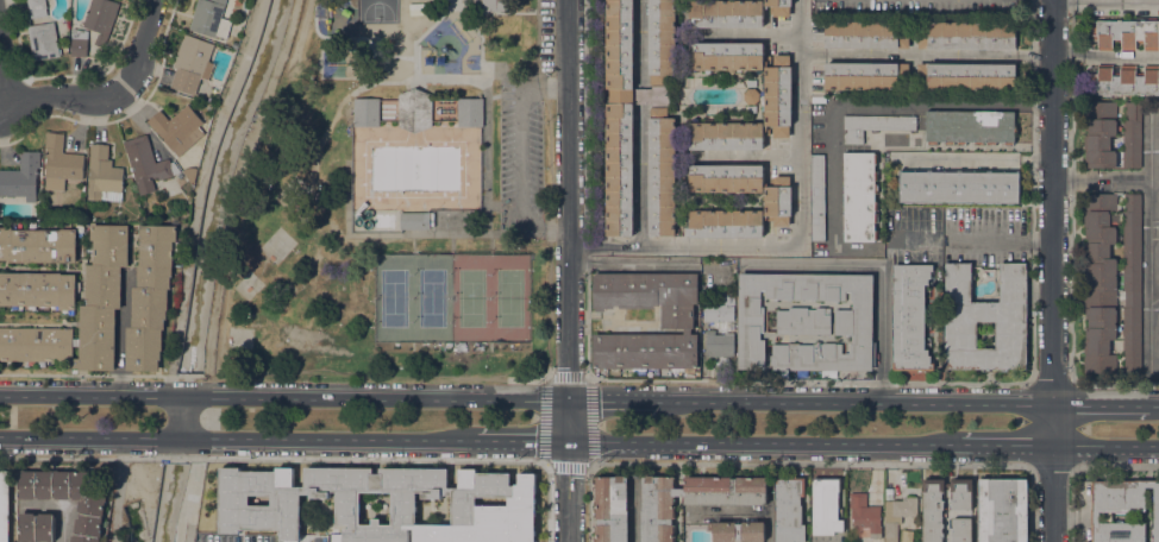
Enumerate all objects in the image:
road: (1108, 0)
road: (455, 4)
building: (491, 5)
building: (778, 6)
building: (37, 7)
road: (451, 8)
park: (377, 11)
road: (499, 13)
building: (726, 13)
building: (209, 18)
building: (100, 19)
building: (1124, 33)
building: (865, 34)
building: (966, 34)
road: (538, 36)
parking lot: (547, 36)
road: (753, 36)
road: (362, 38)
road: (639, 38)
building: (43, 40)
building: (662, 40)
building: (79, 43)
road: (142, 48)
road: (927, 55)
building: (726, 56)
road: (1107, 56)
building: (192, 63)
road: (362, 68)
building: (864, 75)
building: (966, 76)
road: (422, 78)
road: (4, 80)
building: (1124, 82)
building: (751, 83)
building: (751, 95)
building: (778, 95)
road: (62, 99)
road: (872, 100)
road: (1, 108)
building: (414, 109)
building: (752, 109)
building: (367, 112)
building: (469, 112)
road: (123, 116)
building: (619, 116)
building: (873, 125)
building: (970, 126)
building: (176, 127)
building: (1100, 133)
building: (1132, 134)
road: (485, 156)
parking lot: (520, 158)
road: (525, 159)
road: (748, 159)
road: (975, 159)
building: (59, 163)
building: (146, 164)
building: (1158, 171)
building: (104, 175)
building: (662, 175)
road: (640, 176)
building: (21, 177)
building: (726, 178)
road: (1103, 179)
building: (959, 187)
road: (231, 191)
road: (199, 193)
building: (859, 196)
park: (389, 198)
building: (816, 198)
road: (1149, 210)
building: (745, 215)
road: (550, 218)
building: (416, 220)
road: (386, 234)
road: (800, 235)
building: (39, 245)
road: (588, 250)
street lamp: (372, 270)
street lamp: (531, 271)
road: (570, 271)
road: (876, 271)
road: (1057, 271)
street lamp: (413, 276)
street lamp: (452, 276)
street lamp: (490, 276)
building: (1110, 282)
building: (38, 289)
building: (150, 297)
street lamp: (413, 297)
park: (451, 297)
street lamp: (452, 297)
park: (471, 297)
park: (394, 298)
park: (432, 298)
street lamp: (490, 298)
park: (509, 298)
street lamp: (372, 300)
street lamp: (531, 301)
building: (719, 310)
building: (81, 311)
building: (909, 316)
street lamp: (413, 320)
street lamp: (452, 320)
street lamp: (490, 320)
building: (677, 320)
building: (985, 320)
building: (802, 321)
building: (852, 323)
street lamp: (372, 324)
street lamp: (531, 326)
building: (731, 326)
road: (1148, 330)
building: (1158, 336)
road: (1033, 339)
building: (719, 344)
road: (101, 374)
road: (356, 376)
road: (532, 378)
road: (547, 379)
road: (721, 380)
road: (284, 393)
road: (626, 397)
road: (869, 402)
road: (1101, 404)
road: (1152, 405)
road: (189, 417)
road: (31, 439)
road: (265, 441)
road: (518, 443)
road: (759, 445)
road: (1005, 447)
road: (1109, 448)
road: (588, 464)
road: (193, 490)
road: (119, 491)
building: (961, 493)
building: (349, 498)
building: (693, 499)
building: (92, 505)
building: (4, 506)
building: (826, 506)
road: (184, 509)
building: (610, 509)
building: (789, 509)
building: (933, 509)
building: (1122, 509)
building: (1003, 510)
building: (897, 515)
building: (864, 517)
building: (36, 527)
building: (961, 530)
building: (737, 531)

